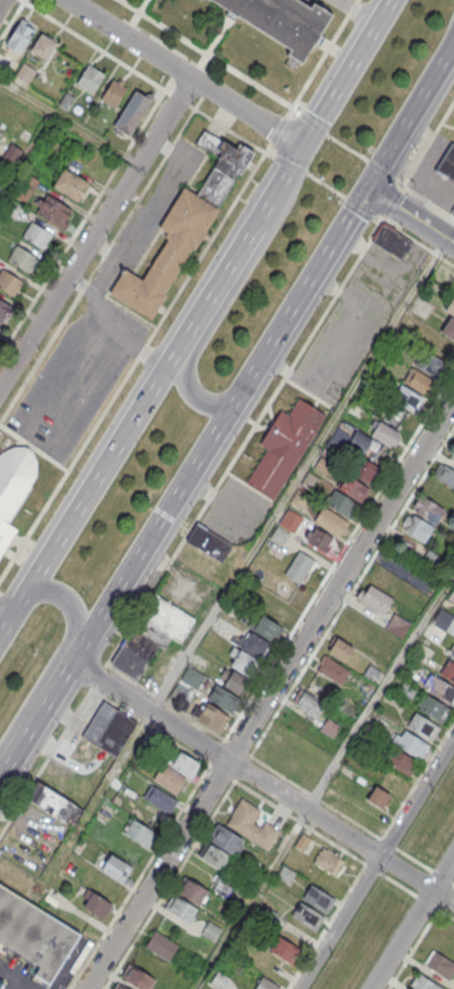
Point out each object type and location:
road: (1, 1)
road: (11, 19)
building: (281, 21)
building: (21, 35)
building: (42, 46)
road: (209, 56)
building: (25, 73)
road: (182, 73)
building: (89, 78)
road: (147, 78)
building: (113, 92)
building: (65, 100)
building: (131, 112)
road: (69, 121)
traffic signals: (300, 147)
building: (12, 152)
building: (447, 163)
building: (2, 178)
building: (70, 184)
building: (26, 185)
traffic signals: (368, 190)
road: (428, 201)
building: (11, 207)
building: (53, 210)
road: (143, 212)
road: (411, 217)
road: (82, 221)
building: (183, 229)
road: (95, 233)
building: (37, 234)
road: (411, 238)
building: (391, 242)
road: (103, 248)
building: (22, 257)
building: (442, 275)
building: (9, 282)
road: (222, 304)
building: (450, 306)
building: (3, 309)
road: (195, 315)
parking lot: (355, 320)
road: (108, 326)
building: (449, 328)
parking lot: (98, 329)
road: (265, 355)
building: (435, 356)
road: (132, 364)
building: (417, 380)
building: (405, 397)
building: (379, 436)
road: (244, 440)
building: (283, 445)
building: (452, 456)
building: (364, 469)
building: (444, 474)
building: (14, 485)
building: (298, 500)
building: (342, 503)
building: (427, 510)
parking lot: (235, 511)
building: (290, 520)
building: (331, 521)
building: (416, 526)
building: (279, 536)
building: (317, 538)
building: (209, 543)
building: (432, 558)
road: (243, 563)
building: (298, 566)
building: (385, 579)
building: (422, 592)
building: (451, 595)
building: (374, 597)
building: (276, 609)
road: (2, 618)
building: (442, 620)
building: (161, 622)
building: (397, 625)
building: (265, 628)
building: (253, 644)
building: (340, 648)
road: (60, 653)
building: (132, 654)
building: (452, 654)
building: (242, 661)
building: (332, 670)
building: (448, 670)
building: (372, 673)
road: (97, 675)
building: (193, 676)
building: (235, 682)
building: (406, 689)
building: (443, 690)
road: (270, 693)
road: (374, 696)
building: (222, 697)
building: (308, 702)
building: (433, 708)
building: (208, 714)
road: (36, 721)
building: (422, 726)
road: (207, 727)
building: (329, 727)
building: (109, 729)
building: (409, 742)
road: (46, 759)
building: (401, 761)
building: (182, 762)
building: (168, 778)
building: (389, 779)
road: (263, 783)
road: (313, 796)
building: (378, 797)
building: (159, 798)
building: (54, 803)
road: (271, 803)
building: (250, 824)
building: (138, 831)
road: (375, 835)
building: (225, 838)
building: (215, 856)
building: (329, 860)
road: (375, 862)
building: (115, 867)
building: (285, 873)
road: (441, 876)
road: (452, 882)
building: (222, 885)
building: (192, 890)
building: (318, 898)
building: (97, 905)
building: (180, 908)
building: (307, 915)
building: (267, 916)
road: (412, 919)
building: (211, 930)
building: (34, 934)
building: (161, 945)
building: (283, 948)
road: (412, 948)
building: (440, 964)
building: (137, 977)
building: (219, 979)
building: (423, 983)
building: (265, 984)
building: (119, 986)

